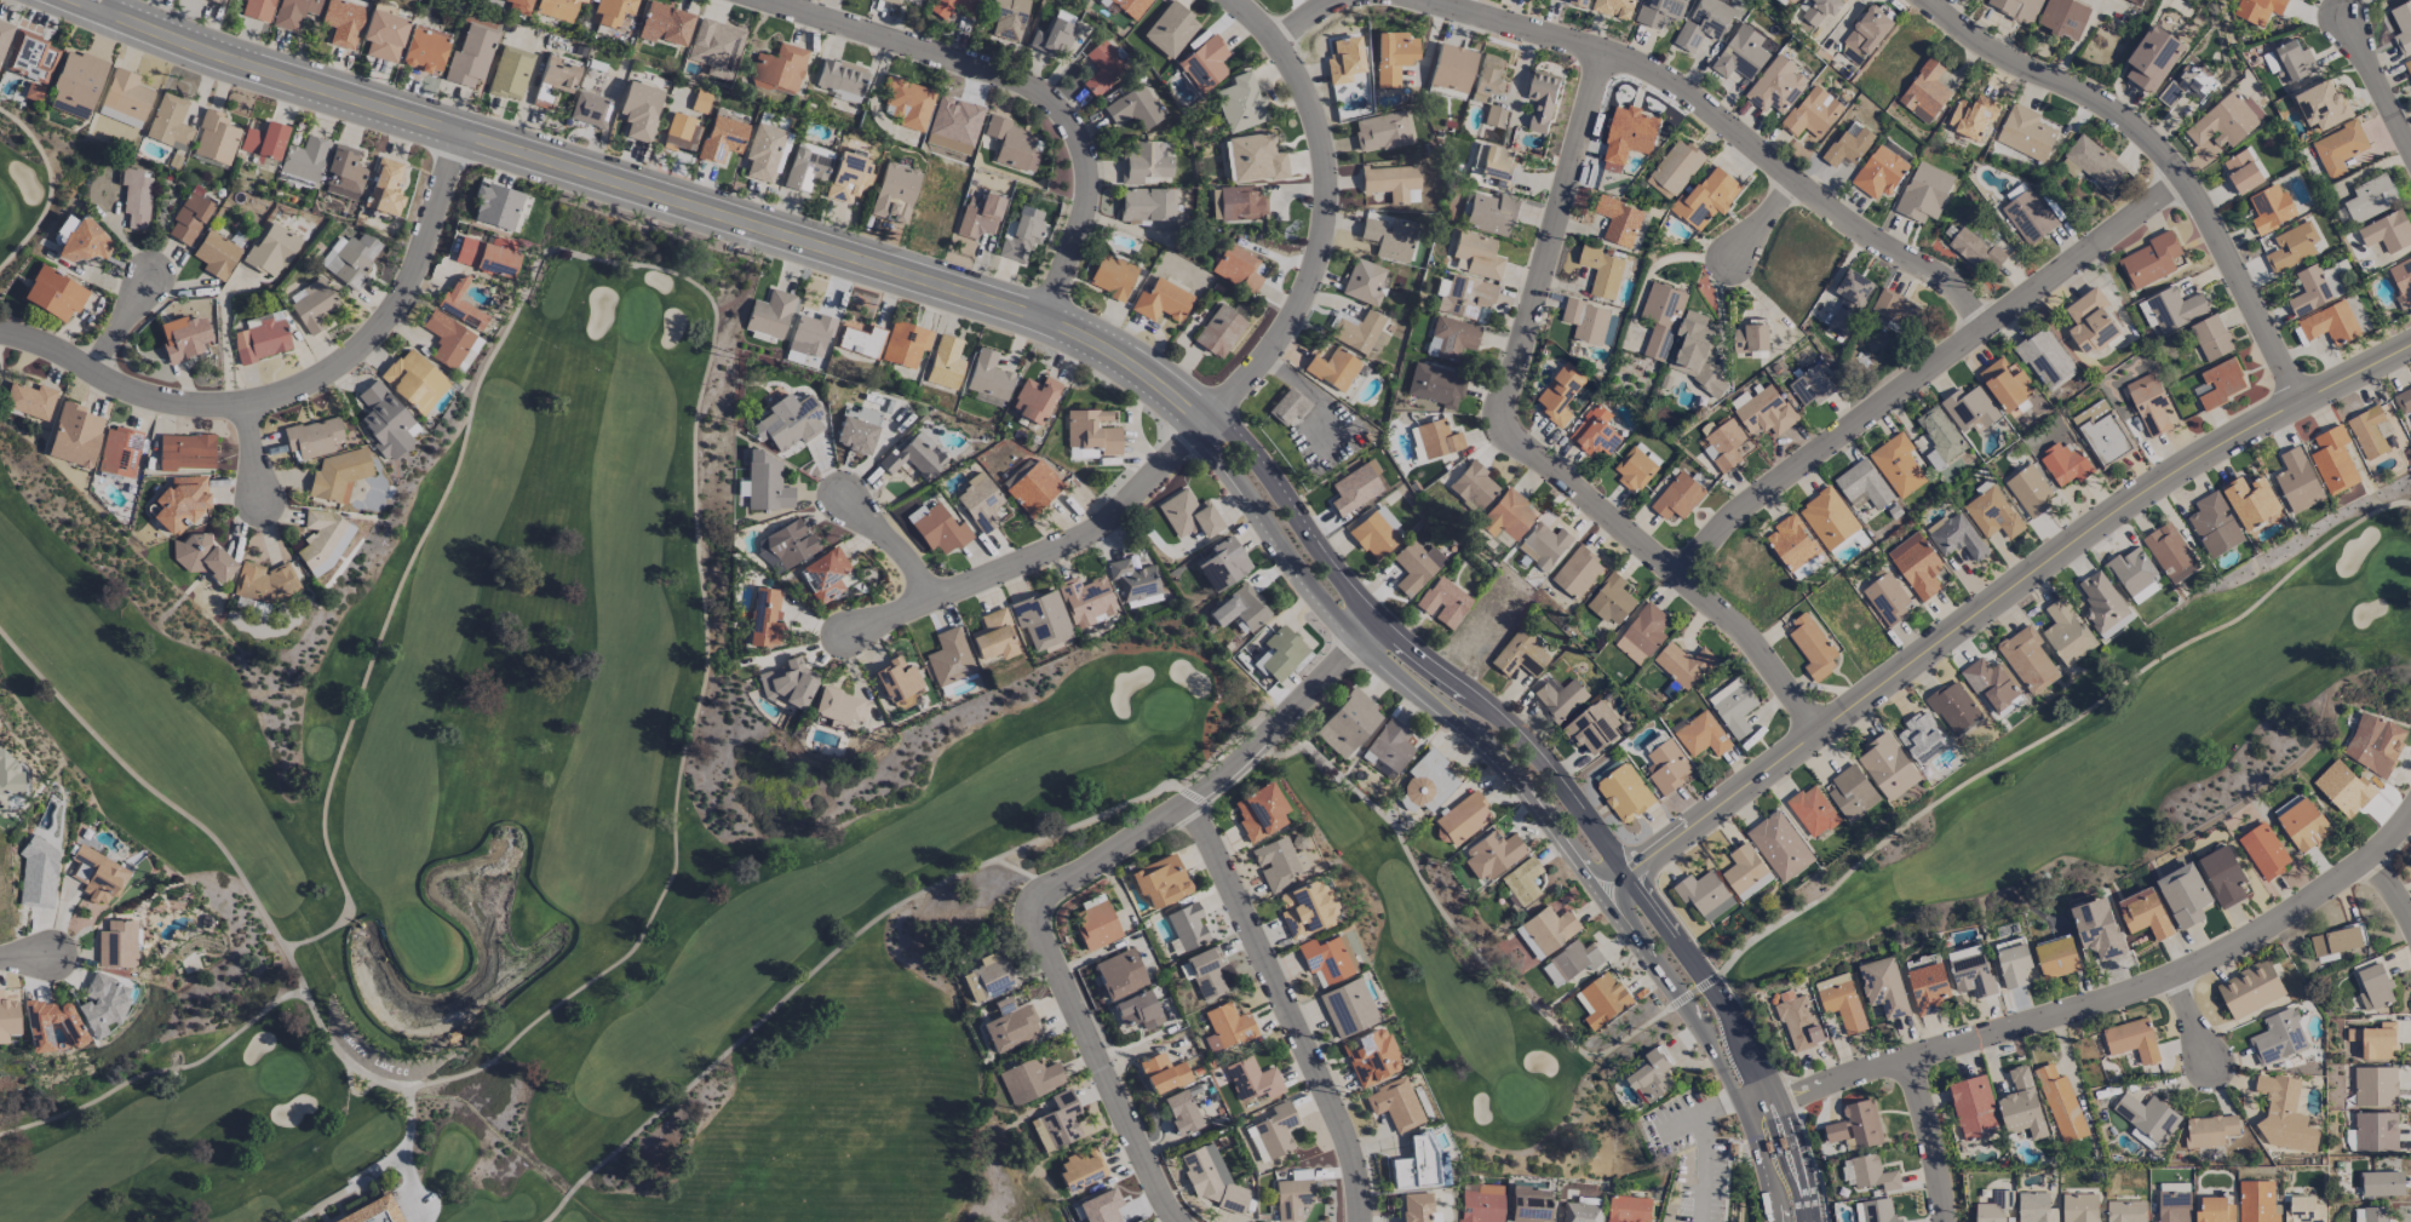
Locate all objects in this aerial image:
building: (216, 1)
building: (891, 1)
building: (2135, 1)
building: (1578, 2)
road: (102, 5)
building: (518, 6)
building: (949, 6)
building: (1130, 6)
building: (1615, 7)
building: (257, 8)
building: (557, 8)
building: (2016, 8)
building: (1820, 10)
building: (2257, 10)
building: (610, 11)
building: (1658, 11)
building: (292, 12)
building: (2063, 17)
building: (1008, 18)
road: (1301, 19)
building: (341, 22)
building: (1705, 23)
building: (665, 24)
building: (2403, 27)
building: (1169, 29)
building: (1867, 31)
building: (4, 35)
building: (383, 35)
building: (1051, 36)
building: (714, 47)
building: (424, 50)
building: (1740, 53)
building: (470, 56)
building: (1391, 57)
building: (2152, 57)
building: (1343, 61)
building: (2290, 62)
building: (31, 63)
building: (1202, 64)
building: (2407, 65)
building: (1102, 67)
building: (779, 68)
building: (1451, 68)
building: (510, 73)
building: (1487, 78)
building: (553, 79)
building: (840, 81)
road: (2055, 81)
road: (1016, 82)
building: (75, 84)
building: (1776, 85)
building: (2188, 85)
road: (2376, 85)
building: (1924, 91)
building: (1542, 98)
building: (699, 102)
building: (907, 103)
building: (1239, 103)
building: (2320, 104)
building: (121, 107)
building: (1132, 108)
building: (589, 109)
building: (638, 110)
building: (1812, 113)
building: (1971, 116)
building: (2225, 121)
building: (168, 122)
road: (1723, 127)
building: (1380, 131)
building: (2025, 132)
building: (681, 133)
building: (1628, 136)
building: (214, 138)
building: (721, 138)
building: (263, 140)
building: (1011, 144)
building: (1848, 144)
building: (2338, 148)
building: (1896, 150)
building: (762, 151)
building: (305, 159)
building: (1253, 159)
building: (1143, 162)
building: (805, 166)
building: (1494, 166)
building: (1675, 166)
building: (2241, 171)
building: (1878, 172)
building: (343, 173)
park: (34, 177)
building: (848, 177)
building: (1390, 182)
building: (384, 187)
building: (1924, 191)
road: (645, 193)
building: (892, 193)
building: (134, 197)
building: (1706, 197)
building: (2370, 197)
building: (1238, 202)
building: (1146, 203)
building: (495, 206)
building: (2269, 207)
building: (1491, 213)
building: (978, 216)
building: (2028, 216)
building: (188, 218)
building: (1618, 219)
road: (1758, 223)
building: (2387, 231)
building: (1020, 234)
building: (1388, 239)
building: (84, 241)
building: (2291, 246)
building: (1975, 248)
building: (271, 249)
building: (216, 254)
building: (487, 254)
building: (1475, 256)
building: (349, 259)
building: (2149, 259)
building: (1235, 268)
building: (1602, 270)
building: (1110, 276)
building: (2401, 280)
building: (1362, 281)
road: (2238, 283)
building: (2314, 288)
building: (53, 293)
building: (1465, 299)
building: (1160, 300)
building: (1848, 300)
building: (311, 304)
building: (460, 305)
building: (2171, 309)
building: (1895, 310)
building: (769, 314)
building: (1660, 317)
building: (1585, 320)
road: (119, 321)
building: (2090, 321)
building: (2335, 321)
building: (1359, 334)
building: (810, 335)
building: (2211, 337)
building: (183, 338)
building: (1450, 338)
building: (259, 339)
building: (860, 340)
building: (1750, 340)
building: (450, 342)
building: (903, 344)
building: (1694, 351)
building: (2045, 358)
building: (945, 362)
building: (1332, 368)
road: (1923, 371)
building: (987, 379)
building: (413, 380)
building: (2005, 383)
building: (2218, 383)
building: (1810, 384)
building: (1434, 385)
road: (294, 386)
road: (1219, 397)
building: (1033, 398)
building: (29, 401)
building: (2403, 401)
building: (2148, 402)
building: (1286, 407)
building: (1969, 408)
building: (1763, 409)
building: (867, 415)
building: (385, 420)
building: (788, 421)
building: (1091, 431)
building: (2367, 431)
building: (1594, 432)
building: (2102, 432)
building: (74, 435)
building: (855, 435)
building: (1940, 436)
building: (312, 437)
building: (1436, 438)
road: (1517, 442)
building: (1723, 444)
building: (119, 452)
building: (185, 452)
road: (251, 452)
building: (914, 457)
building: (2332, 459)
building: (1898, 464)
building: (2063, 464)
building: (1635, 466)
building: (338, 475)
building: (2297, 480)
building: (765, 483)
building: (1862, 484)
building: (1473, 486)
building: (1033, 487)
building: (2027, 489)
building: (1677, 495)
building: (2250, 500)
building: (180, 501)
building: (978, 503)
building: (1992, 514)
building: (1187, 515)
road: (1288, 515)
building: (1506, 515)
building: (1827, 517)
building: (2214, 524)
building: (938, 529)
building: (1374, 533)
building: (1956, 535)
building: (321, 540)
road: (886, 543)
building: (1791, 543)
building: (1544, 545)
building: (785, 546)
building: (2170, 552)
building: (201, 556)
building: (1916, 564)
building: (1414, 566)
building: (1802, 569)
building: (1577, 572)
building: (825, 574)
building: (2134, 574)
building: (1132, 579)
building: (263, 583)
building: (1885, 598)
road: (1996, 598)
building: (1611, 599)
building: (1085, 601)
building: (1442, 602)
building: (2103, 604)
building: (1239, 608)
building: (764, 618)
building: (1040, 619)
building: (1641, 632)
building: (2066, 632)
building: (993, 636)
building: (1812, 646)
building: (1278, 654)
building: (1520, 655)
building: (948, 658)
building: (2027, 659)
building: (1682, 664)
building: (896, 679)
building: (1988, 682)
building: (787, 684)
building: (1560, 698)
building: (1733, 706)
building: (1953, 706)
building: (839, 708)
building: (1347, 723)
building: (1592, 728)
road: (2053, 732)
road: (1511, 733)
building: (1701, 735)
building: (1921, 736)
building: (2373, 744)
building: (1388, 747)
road: (1486, 750)
park: (2113, 758)
building: (1887, 765)
building: (1666, 767)
building: (8, 782)
building: (1429, 782)
building: (2343, 787)
building: (1624, 792)
building: (1852, 792)
building: (1812, 810)
building: (1257, 811)
building: (2303, 824)
building: (1452, 826)
park: (549, 827)
building: (1779, 845)
building: (2263, 850)
building: (1491, 855)
building: (1278, 864)
building: (1745, 871)
building: (36, 874)
building: (96, 876)
road: (1069, 876)
building: (2222, 876)
building: (1158, 880)
building: (1519, 885)
road: (2393, 885)
building: (1704, 894)
building: (2183, 894)
building: (1305, 908)
building: (2143, 913)
building: (1093, 925)
building: (1188, 926)
building: (2096, 926)
road: (1451, 928)
building: (1549, 929)
park: (86, 930)
park: (86, 930)
building: (2336, 940)
building: (116, 945)
road: (33, 951)
road: (834, 951)
building: (2056, 956)
building: (1327, 960)
building: (1569, 962)
building: (2013, 965)
building: (1970, 970)
building: (1205, 973)
building: (1118, 974)
building: (993, 977)
road: (1704, 982)
building: (2376, 985)
building: (1883, 986)
building: (1928, 987)
building: (2250, 988)
road: (2096, 998)
building: (1602, 999)
building: (1841, 1000)
building: (101, 1004)
building: (1351, 1004)
park: (1468, 1005)
road: (1282, 1008)
building: (1135, 1010)
building: (7, 1019)
building: (1798, 1020)
road: (2191, 1020)
building: (1225, 1027)
building: (38, 1033)
building: (2277, 1037)
building: (2131, 1042)
building: (2377, 1042)
building: (1370, 1056)
building: (1161, 1073)
building: (1652, 1074)
building: (1029, 1079)
building: (2375, 1085)
building: (1250, 1086)
building: (2060, 1103)
building: (1394, 1105)
building: (2021, 1105)
building: (1973, 1107)
building: (1179, 1112)
road: (1697, 1113)
building: (2284, 1115)
road: (1768, 1119)
building: (2146, 1119)
building: (1056, 1121)
road: (1791, 1121)
building: (1855, 1125)
building: (2209, 1130)
building: (2375, 1131)
building: (1267, 1134)
road: (1933, 1137)
road: (1760, 1155)
road: (1793, 1157)
parking lot: (1692, 1163)
road: (1701, 1168)
building: (1080, 1169)
building: (1868, 1172)
building: (1211, 1180)
road: (1787, 1180)
building: (2382, 1182)
road: (1808, 1183)
building: (1291, 1199)
building: (2257, 1201)
building: (1481, 1204)
road: (339, 1205)
building: (1528, 1205)
building: (1994, 1206)
building: (2079, 1206)
building: (2174, 1206)
building: (2034, 1207)
building: (1628, 1209)
building: (2303, 1209)
building: (1581, 1210)
park: (1735, 1210)
building: (2215, 1210)
building: (373, 1211)
road: (1774, 1211)
building: (1875, 1211)
building: (2125, 1211)
building: (2370, 1214)
road: (321, 1215)
road: (1807, 1220)

